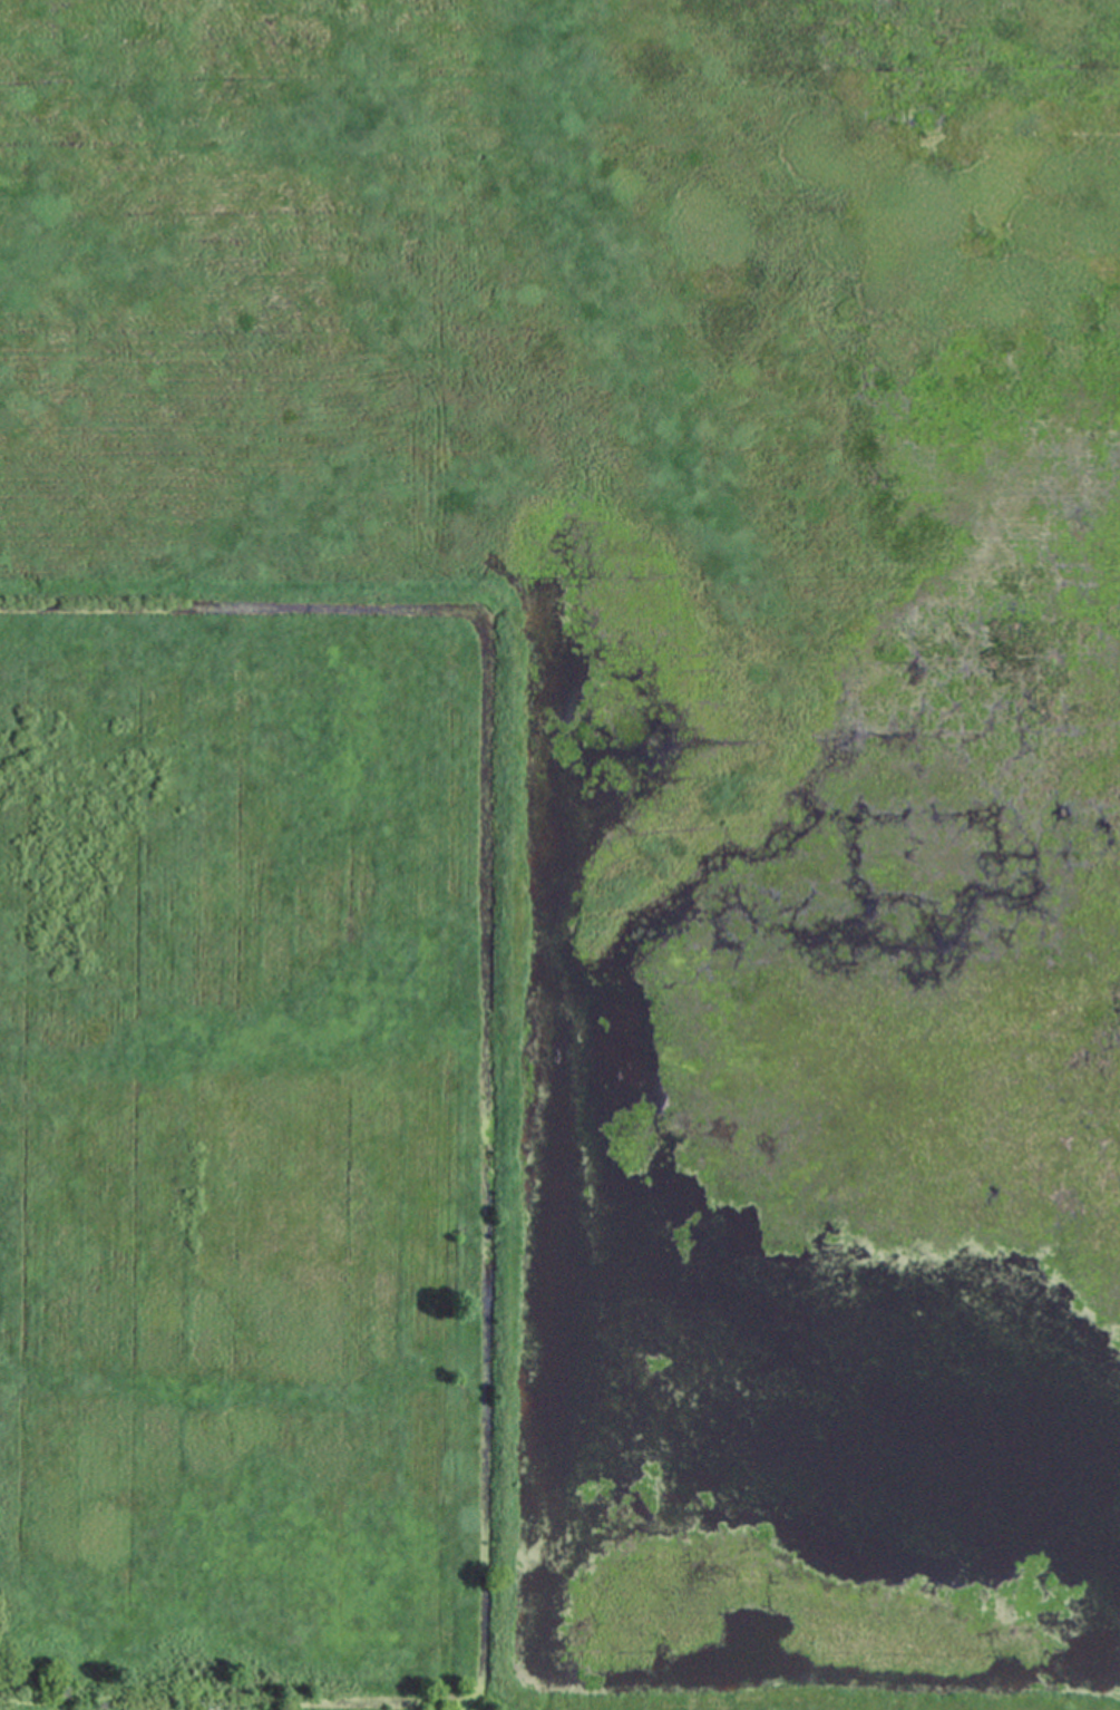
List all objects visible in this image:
building: (88, 1699)

